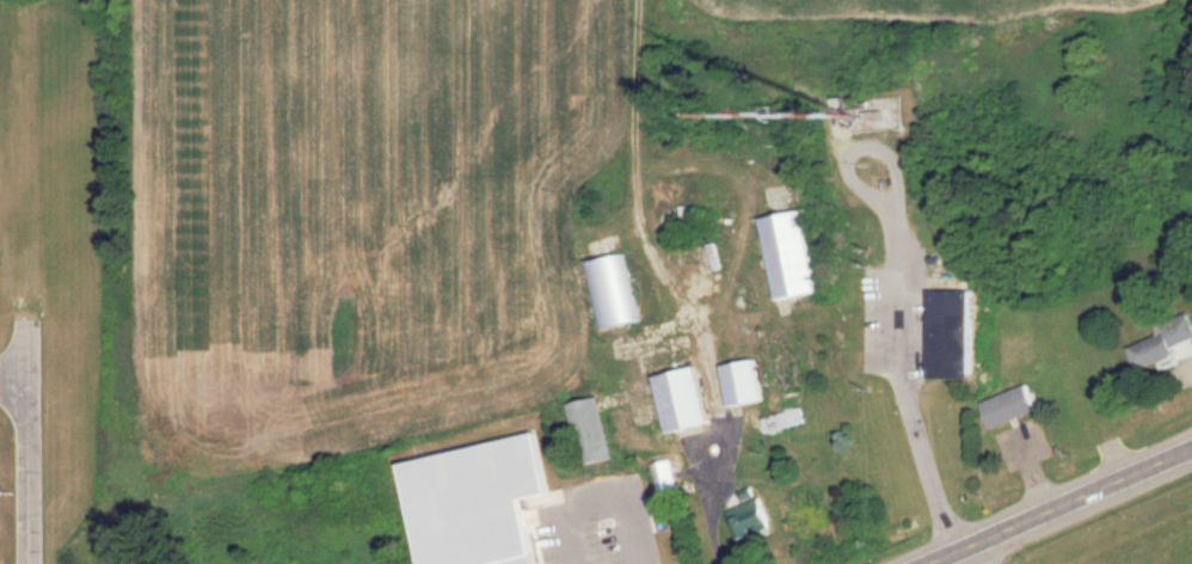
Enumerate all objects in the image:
building: (841, 123)
building: (794, 259)
building: (615, 294)
building: (950, 333)
building: (1161, 341)
building: (748, 388)
building: (689, 404)
building: (1008, 405)
building: (784, 419)
building: (591, 429)
road: (25, 456)
building: (665, 477)
building: (474, 502)
road: (1056, 504)
building: (748, 516)

